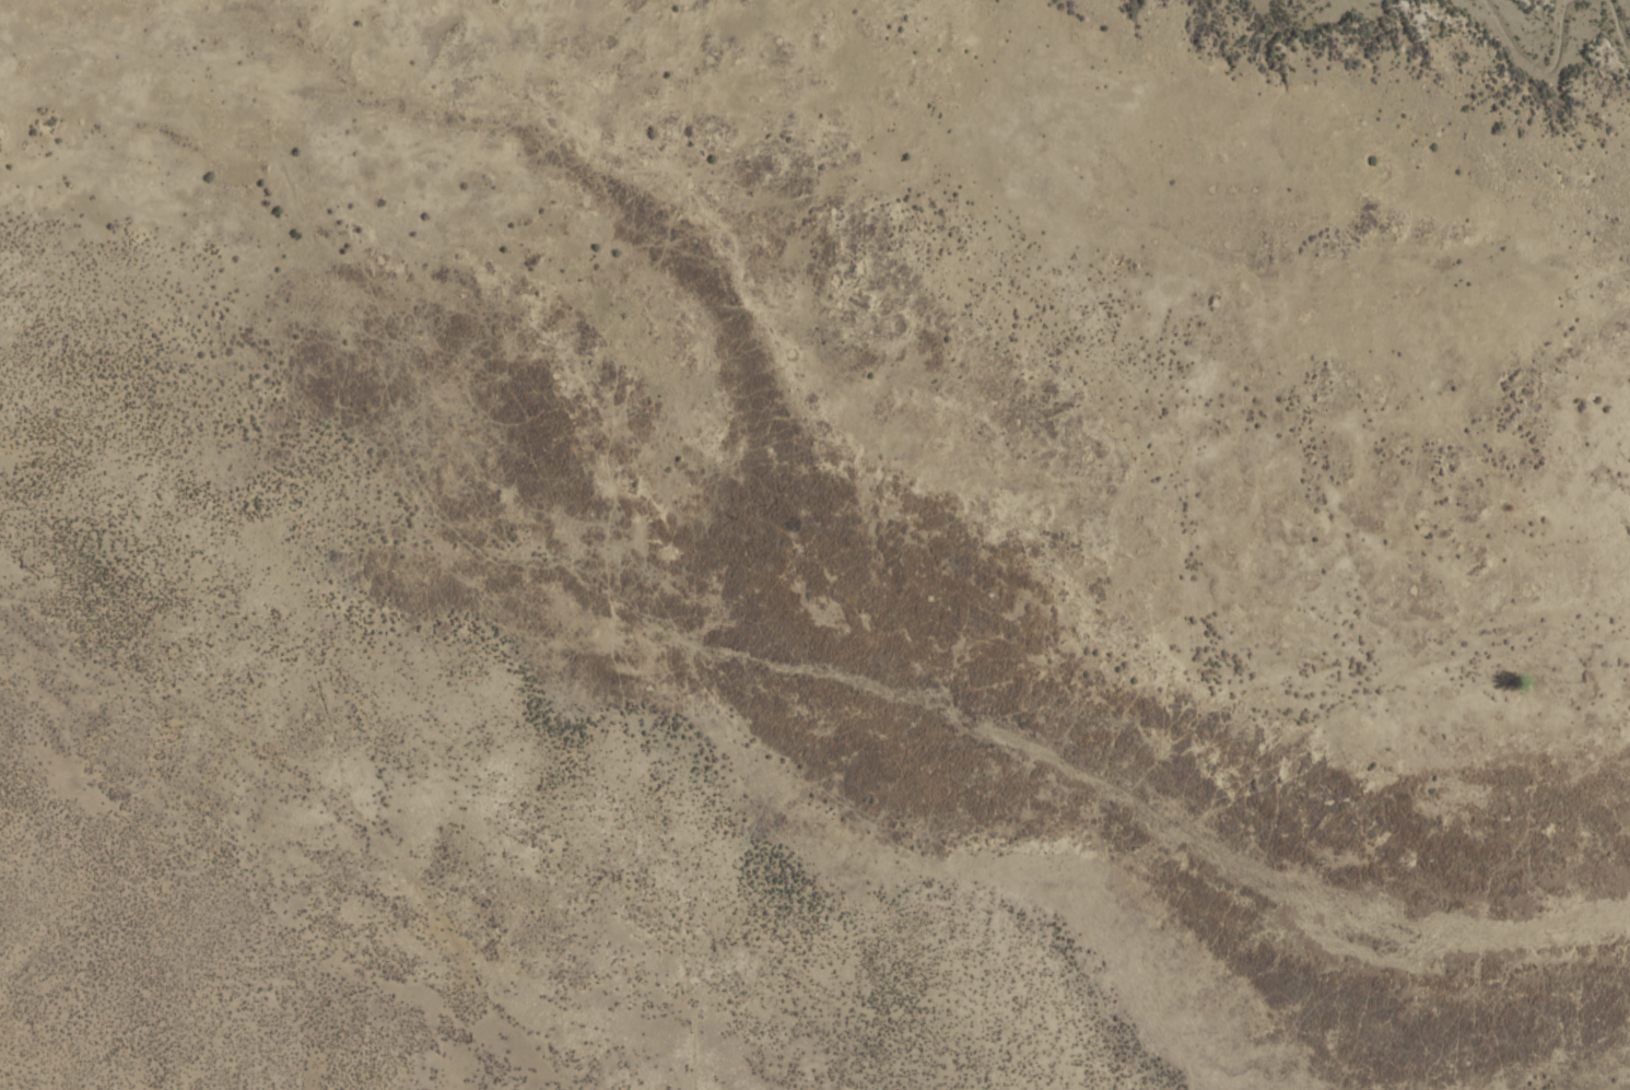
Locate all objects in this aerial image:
river: (1300, 20)
river: (1518, 37)

